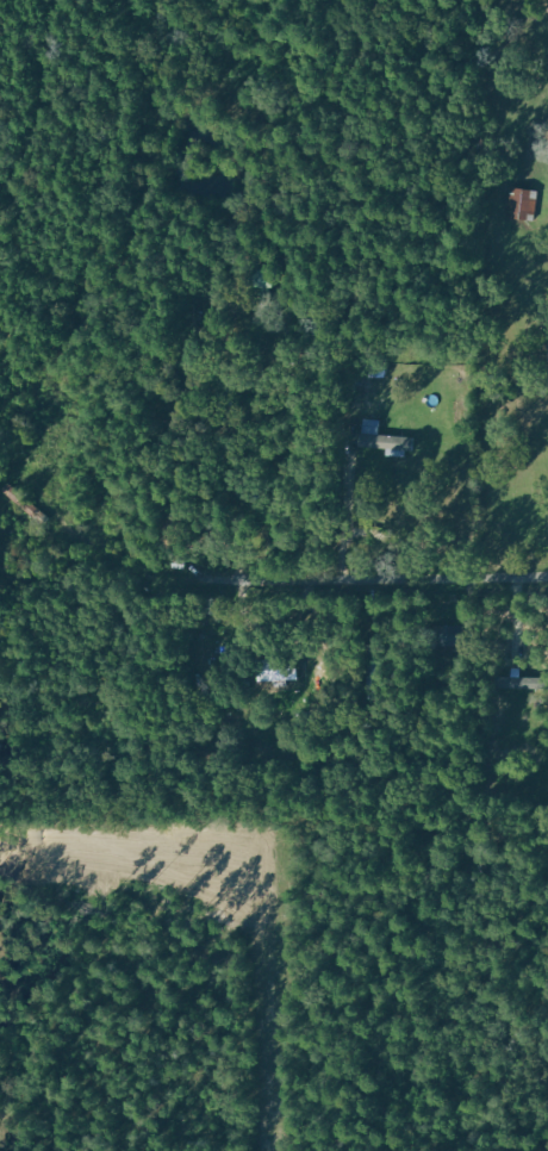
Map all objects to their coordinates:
building: (521, 203)
building: (253, 278)
building: (386, 438)
road: (342, 512)
road: (385, 540)
road: (320, 589)
building: (281, 670)
building: (523, 682)

